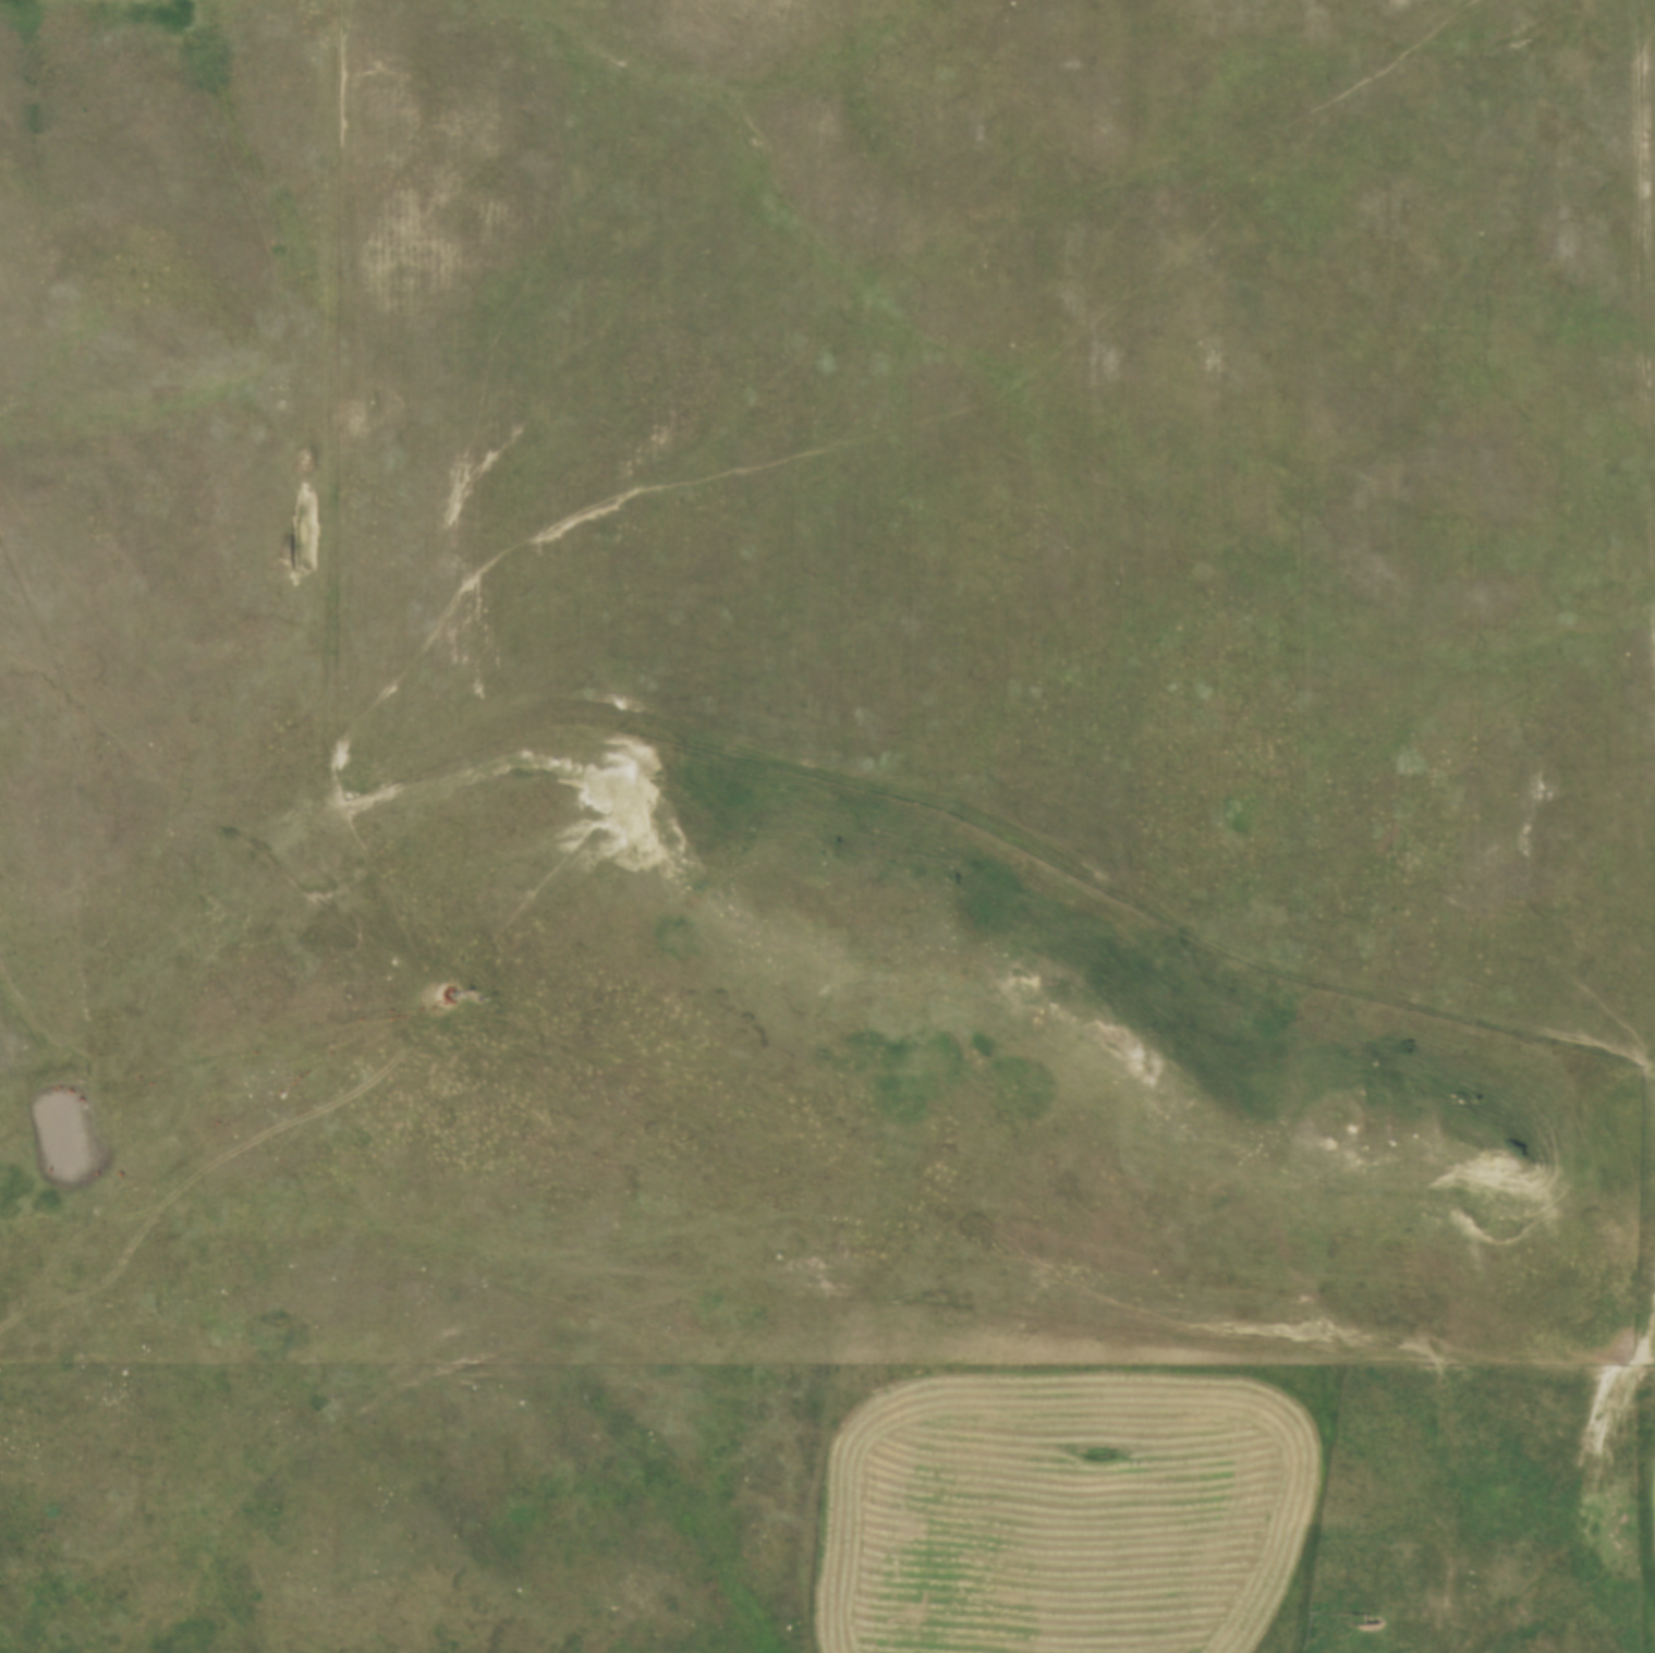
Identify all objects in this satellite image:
road: (1646, 187)
road: (1045, 1237)
road: (1606, 1490)
road: (1530, 1592)

